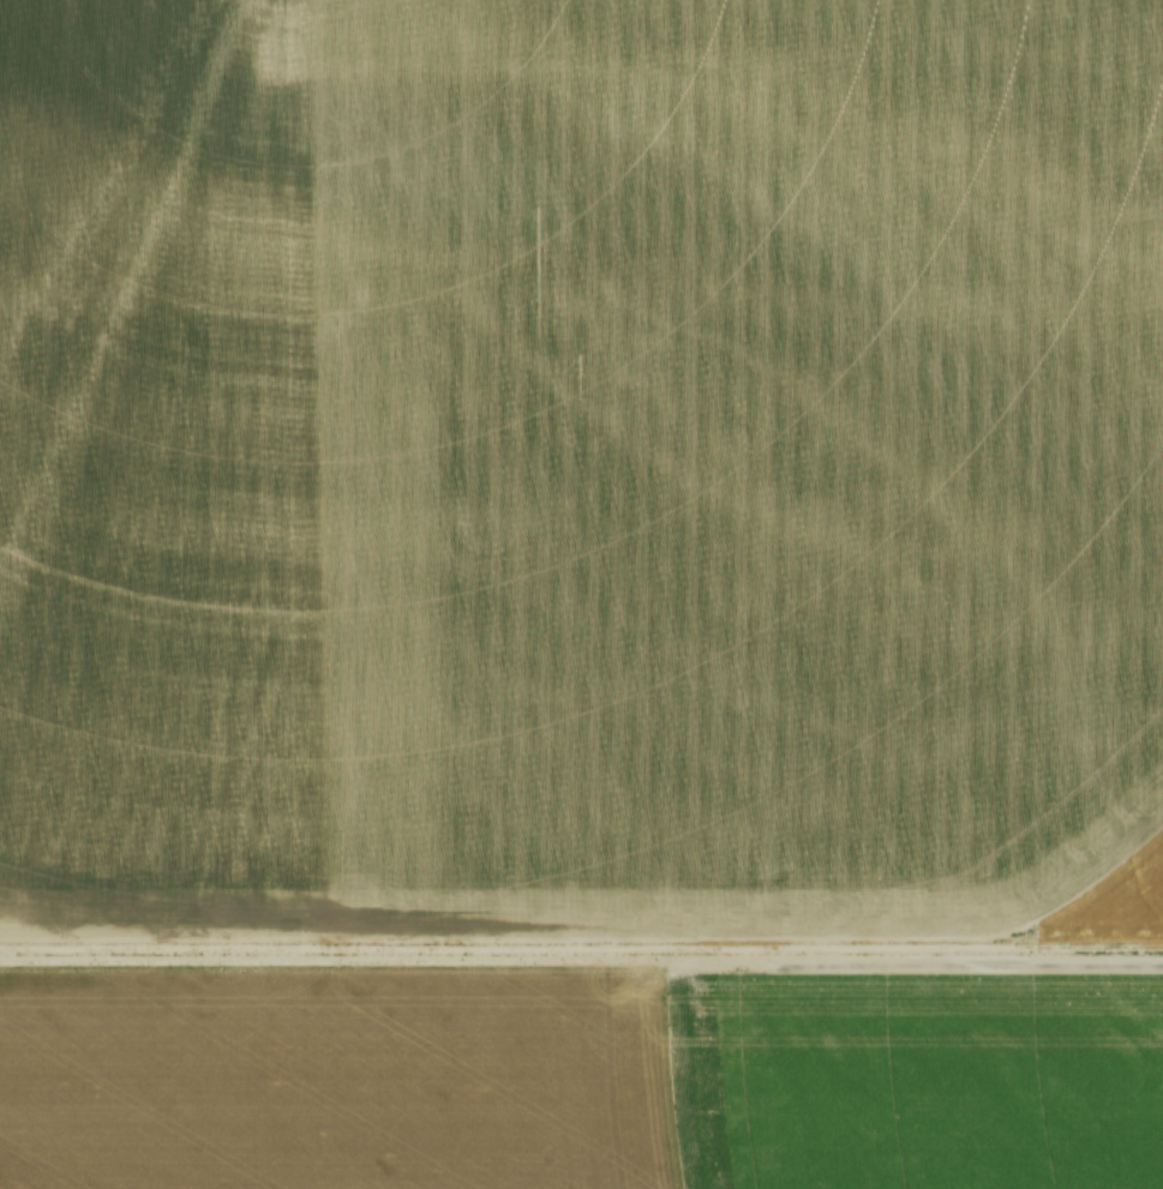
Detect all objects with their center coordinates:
building: (580, 703)

